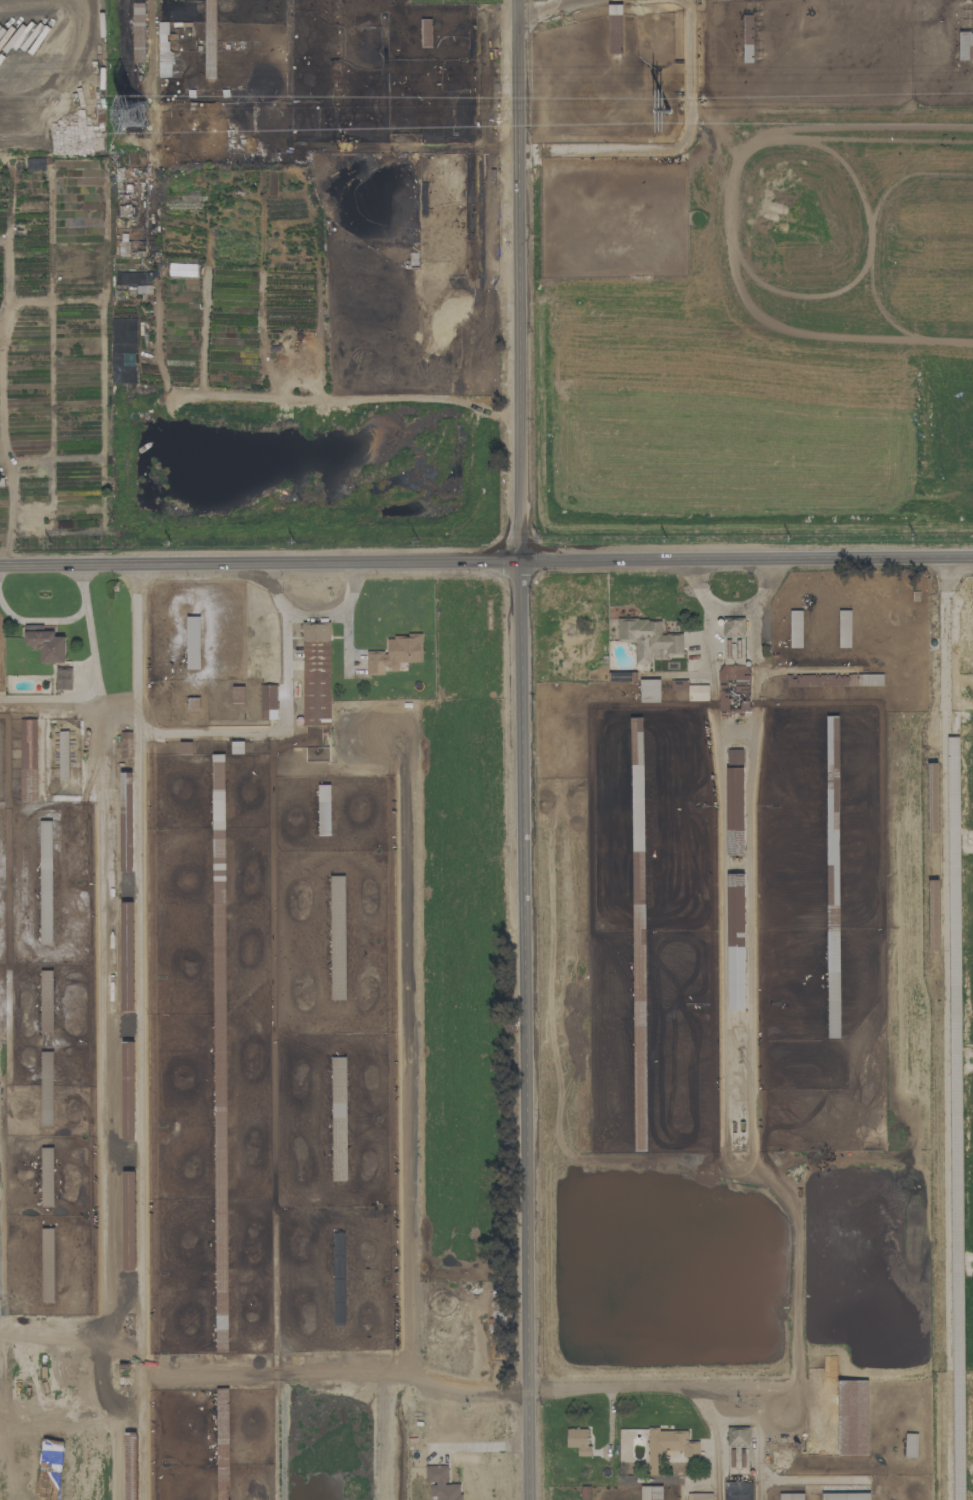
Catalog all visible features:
road: (23, 0)
road: (570, 4)
road: (537, 13)
building: (209, 24)
building: (614, 28)
building: (138, 32)
building: (163, 44)
building: (965, 45)
road: (66, 64)
power tower: (669, 112)
power tower: (135, 117)
road: (675, 149)
road: (486, 560)
road: (316, 609)
road: (729, 609)
road: (48, 621)
building: (795, 628)
building: (844, 628)
building: (648, 639)
building: (193, 642)
building: (45, 643)
building: (394, 654)
road: (98, 655)
building: (316, 673)
building: (63, 678)
building: (864, 679)
building: (799, 680)
building: (649, 690)
building: (697, 692)
building: (723, 695)
road: (71, 699)
building: (268, 701)
road: (192, 724)
building: (832, 739)
road: (524, 749)
building: (28, 760)
building: (734, 800)
building: (954, 911)
building: (337, 937)
building: (735, 941)
building: (127, 956)
building: (46, 1000)
road: (147, 1047)
building: (46, 1088)
building: (128, 1090)
building: (640, 1112)
building: (338, 1118)
building: (128, 1220)
building: (47, 1264)
building: (497, 1303)
road: (340, 1367)
road: (644, 1386)
building: (853, 1417)
building: (578, 1440)
road: (481, 1442)
building: (668, 1445)
building: (910, 1445)
building: (736, 1448)
building: (442, 1483)
building: (737, 1491)
building: (651, 1492)
building: (699, 1496)
building: (790, 1496)
building: (844, 1496)

